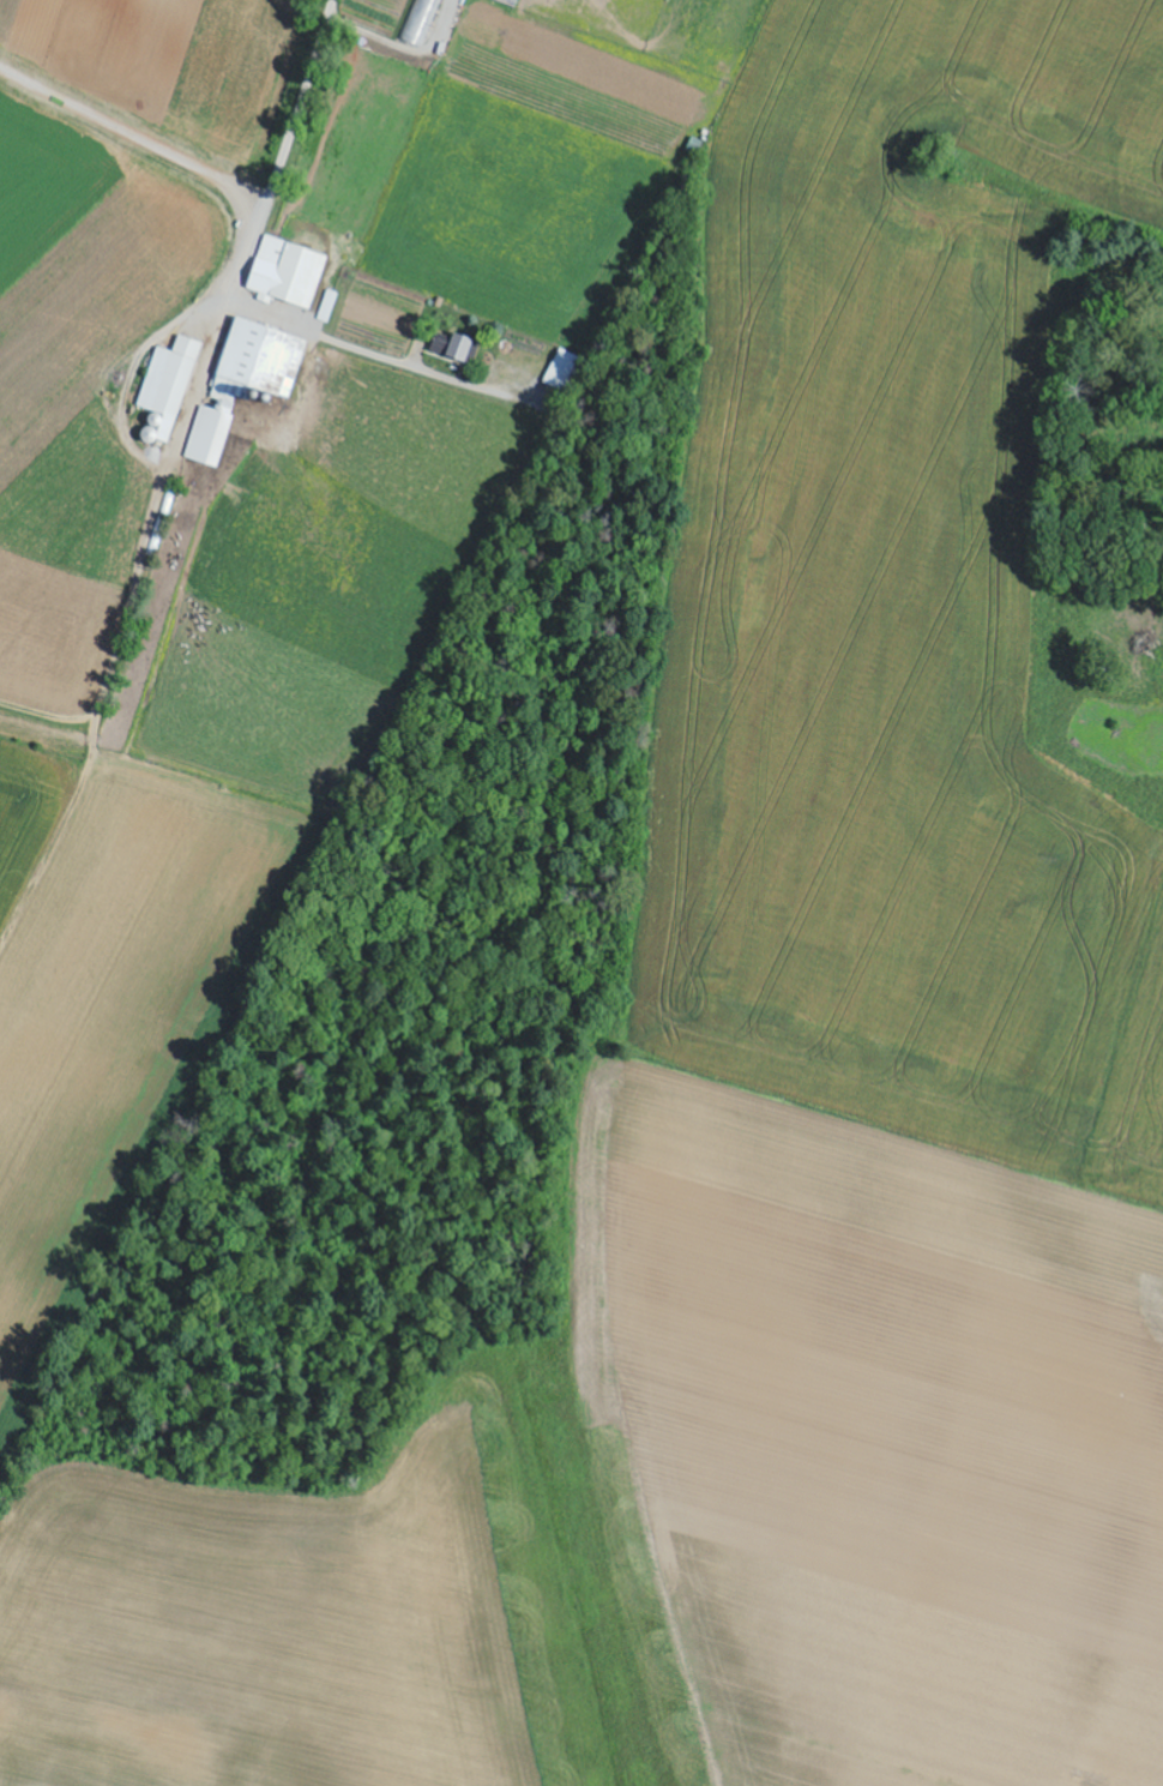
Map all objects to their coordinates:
building: (421, 20)
road: (283, 150)
building: (287, 272)
building: (438, 345)
building: (463, 348)
building: (561, 369)
building: (245, 381)
building: (167, 387)

